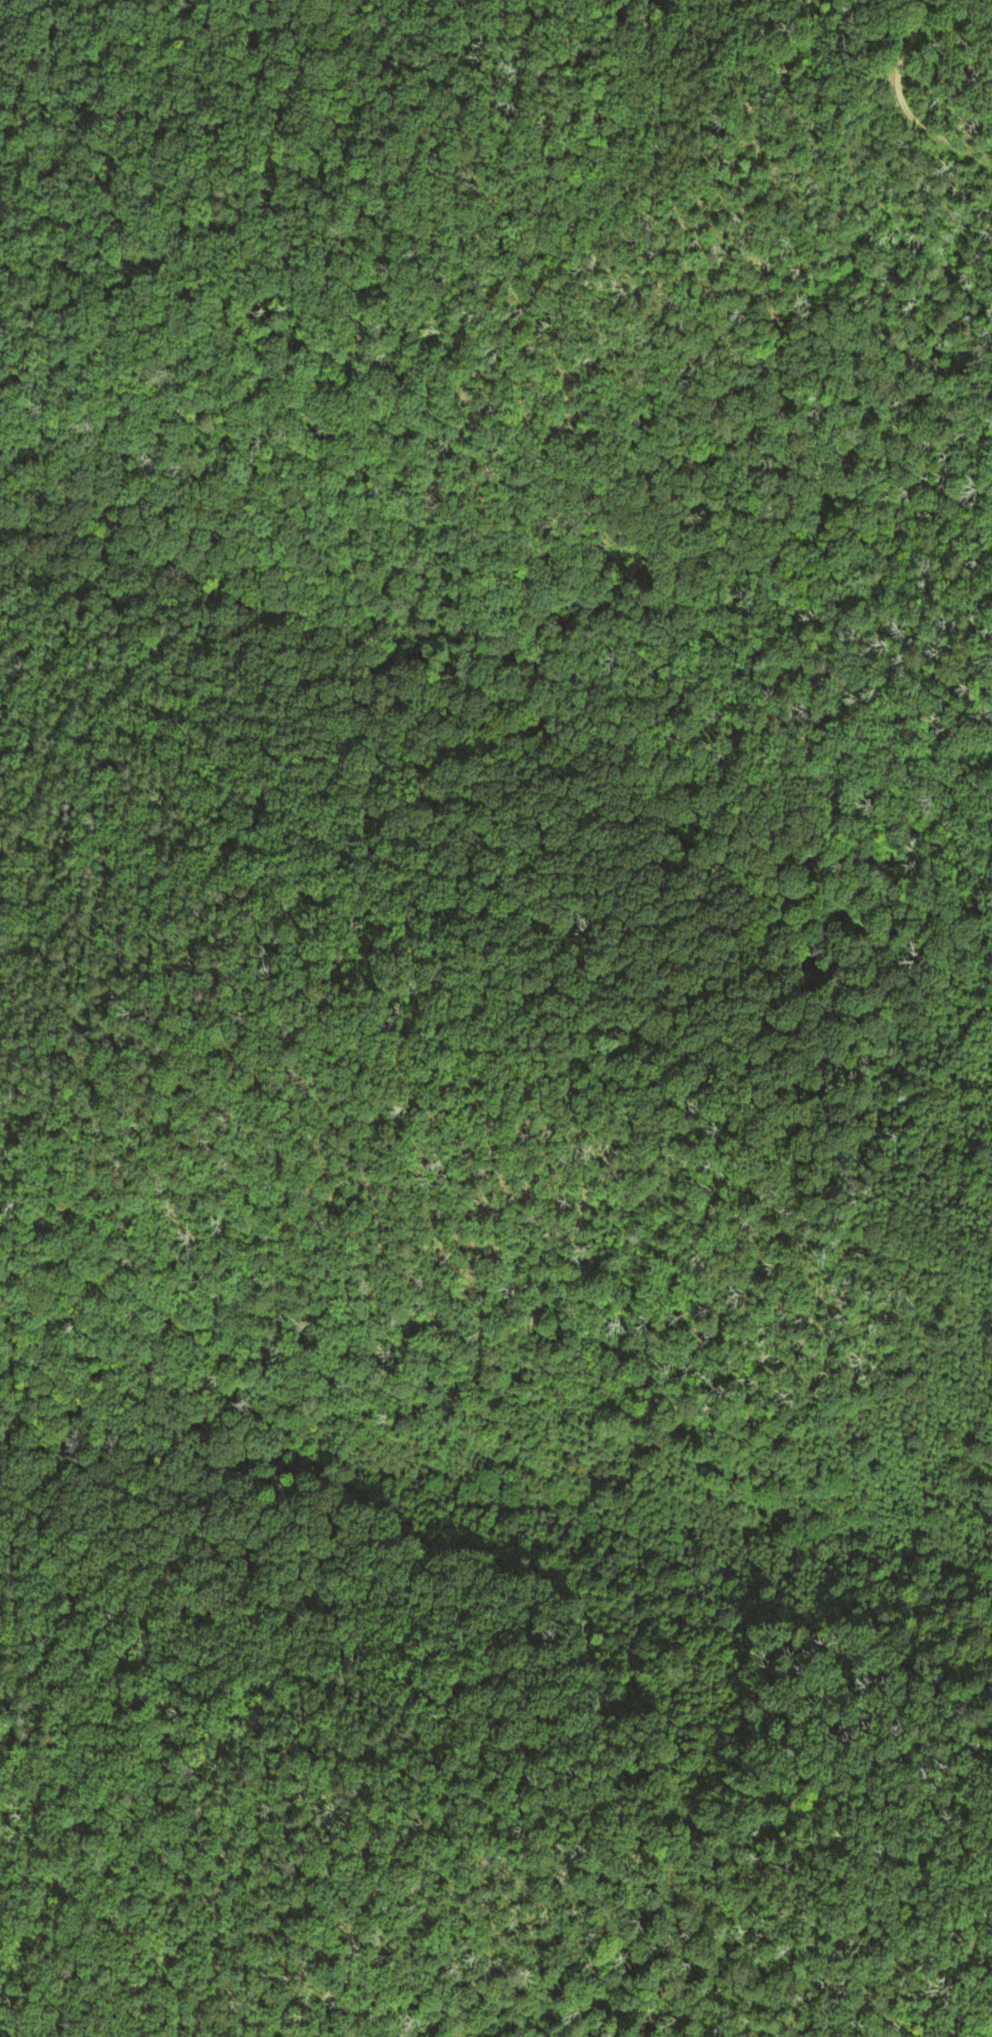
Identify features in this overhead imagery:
road: (897, 99)
road: (804, 1812)

